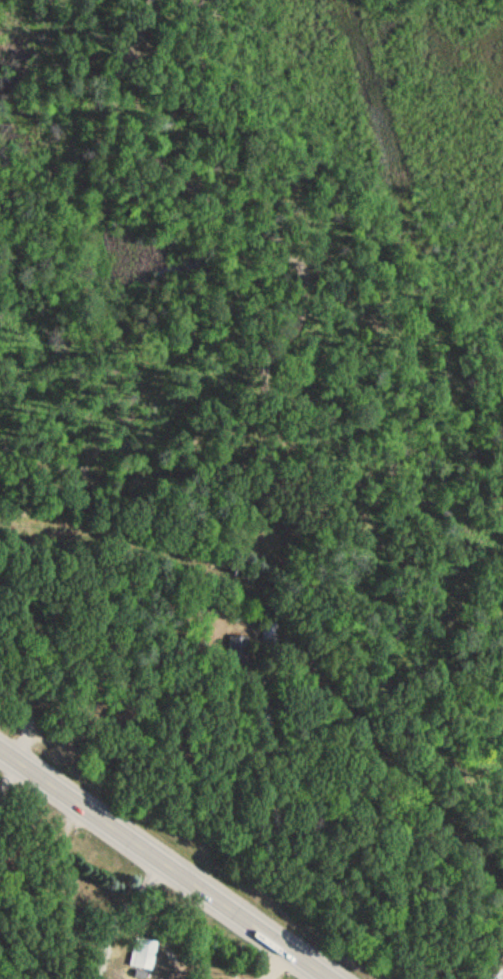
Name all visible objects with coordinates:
road: (265, 425)
building: (270, 634)
road: (291, 645)
building: (238, 648)
road: (164, 866)
building: (144, 952)

